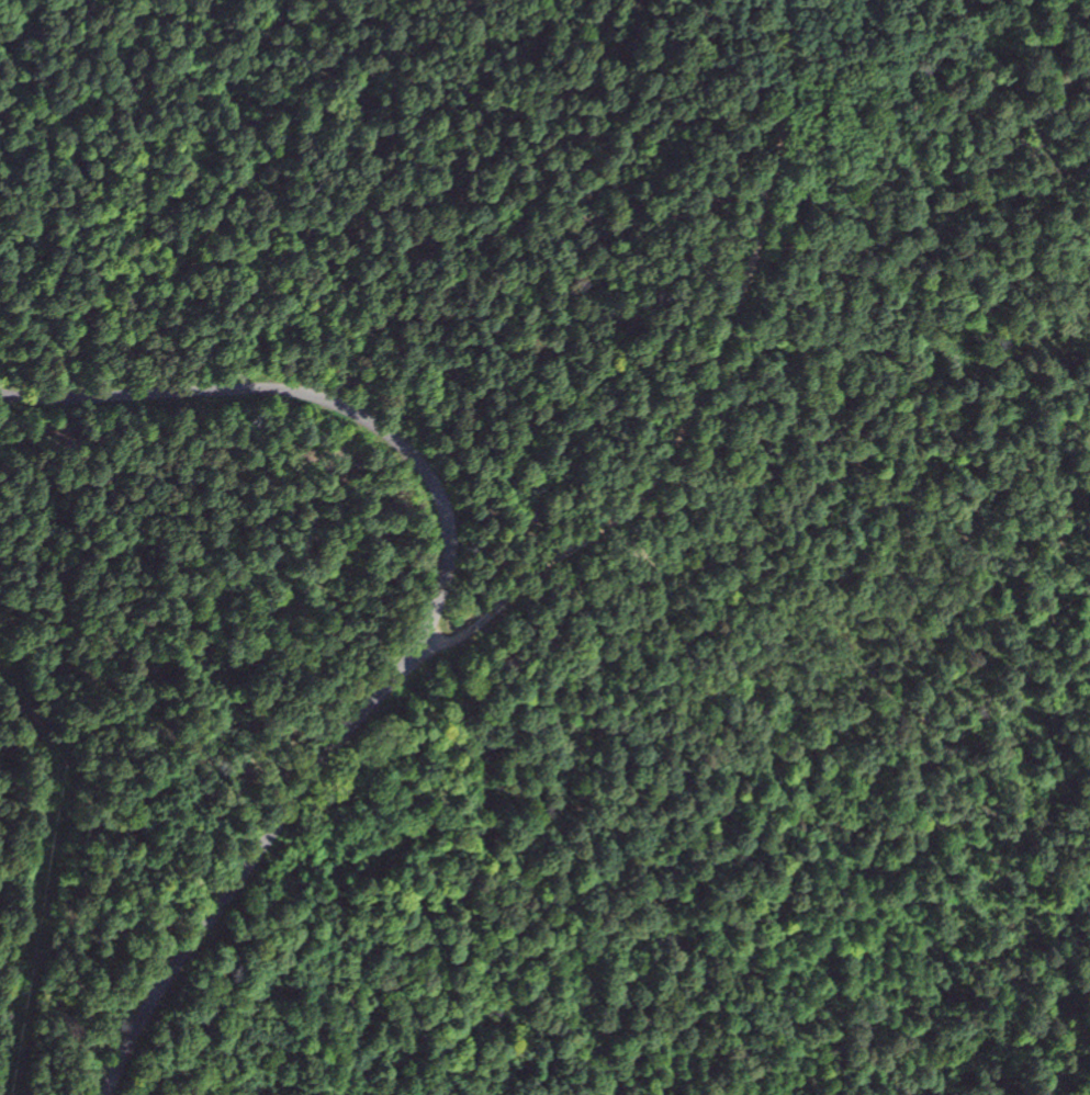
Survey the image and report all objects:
road: (704, 387)
road: (314, 396)
road: (247, 859)

